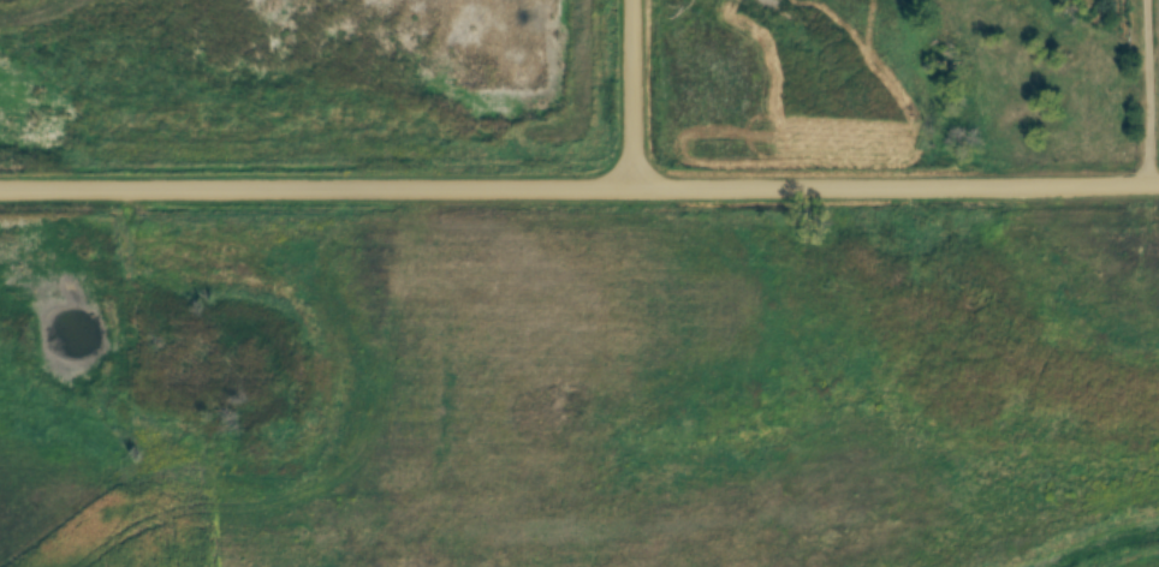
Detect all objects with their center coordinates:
road: (637, 94)
road: (579, 187)

